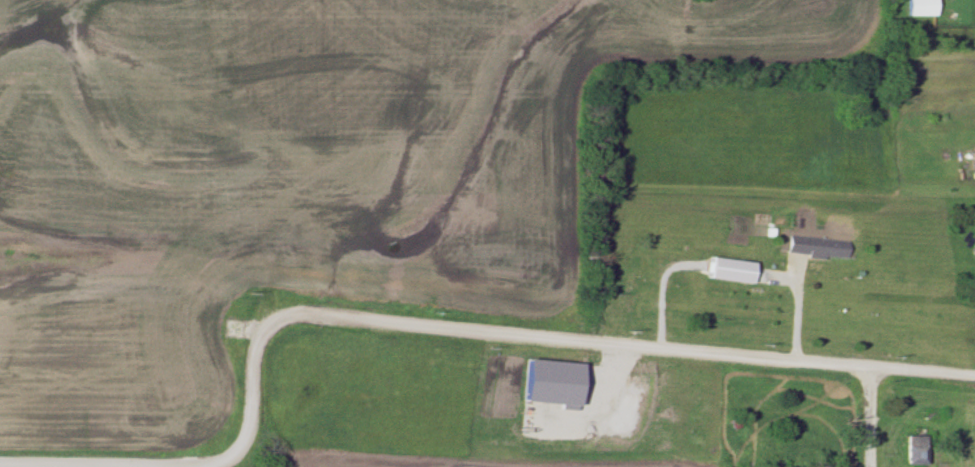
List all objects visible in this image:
building: (816, 246)
road: (552, 340)
road: (868, 417)
building: (962, 431)
building: (915, 451)
road: (218, 461)
road: (56, 465)

